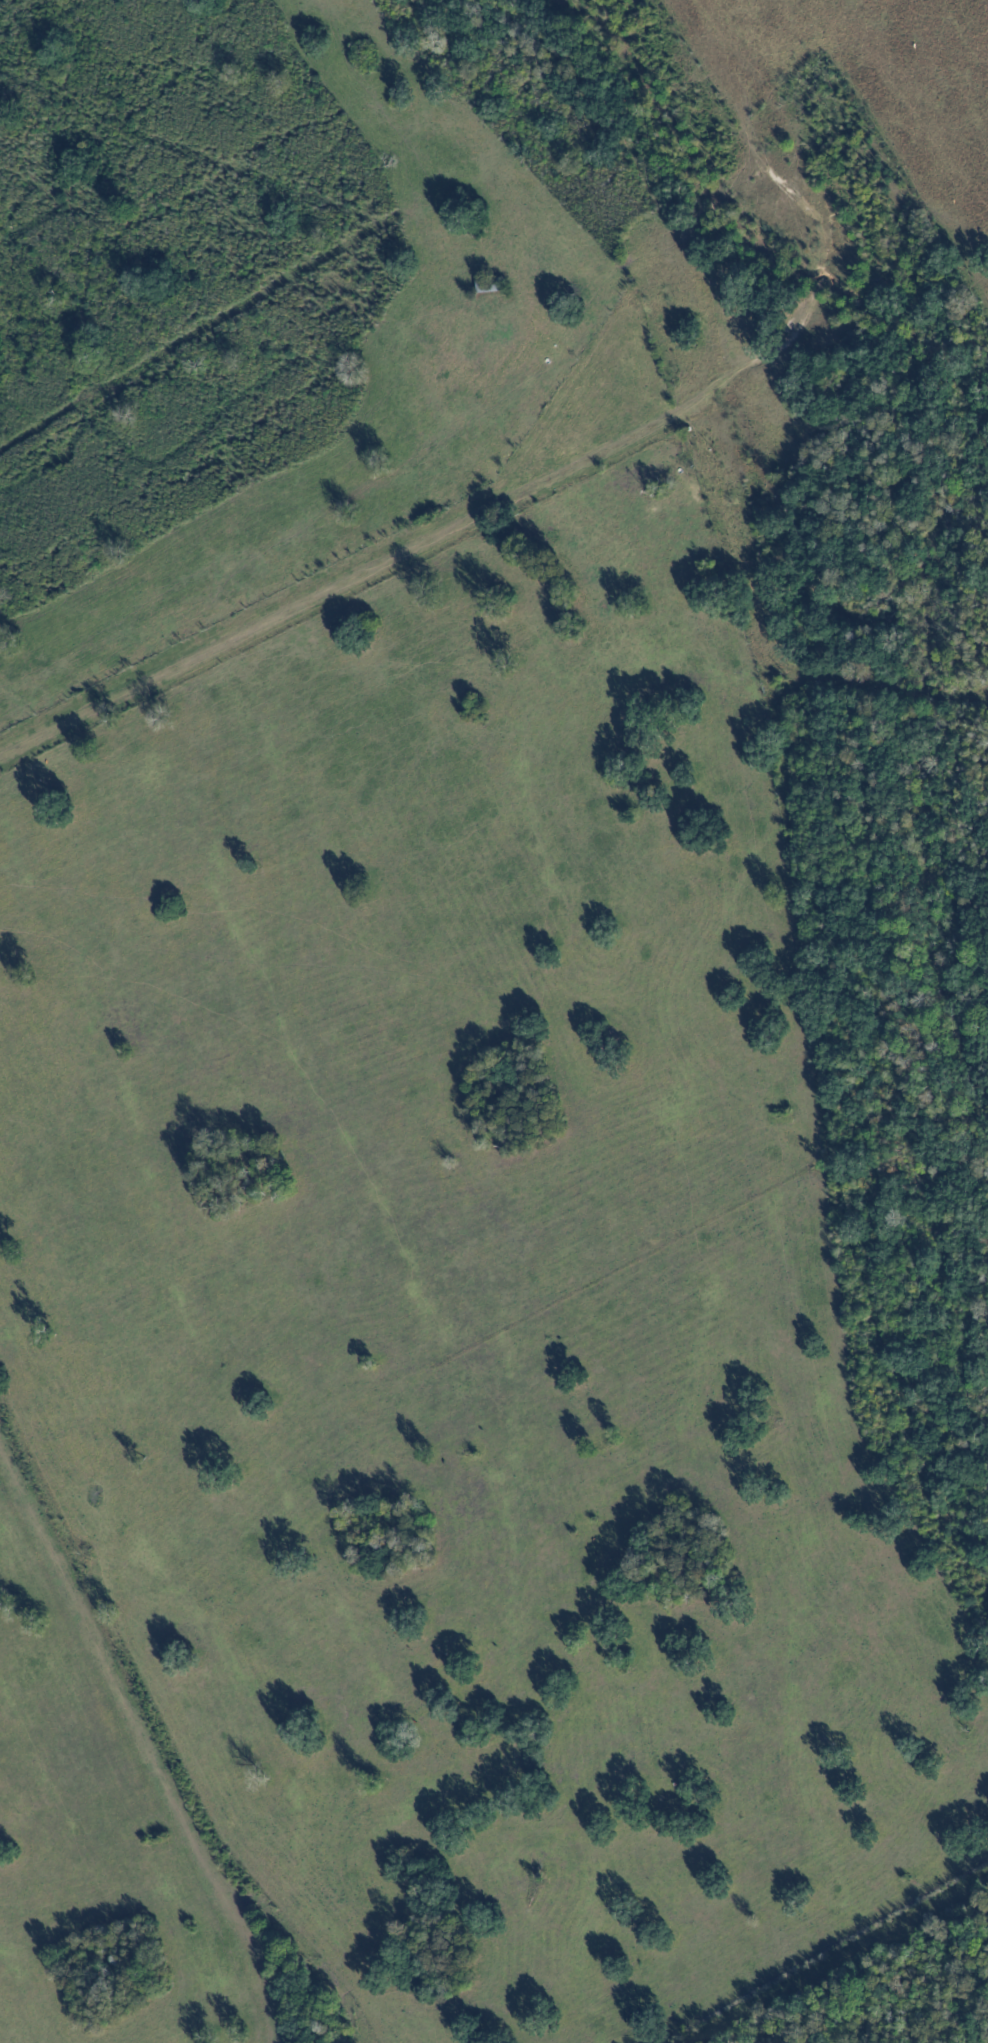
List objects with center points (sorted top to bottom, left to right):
road: (349, 583)

